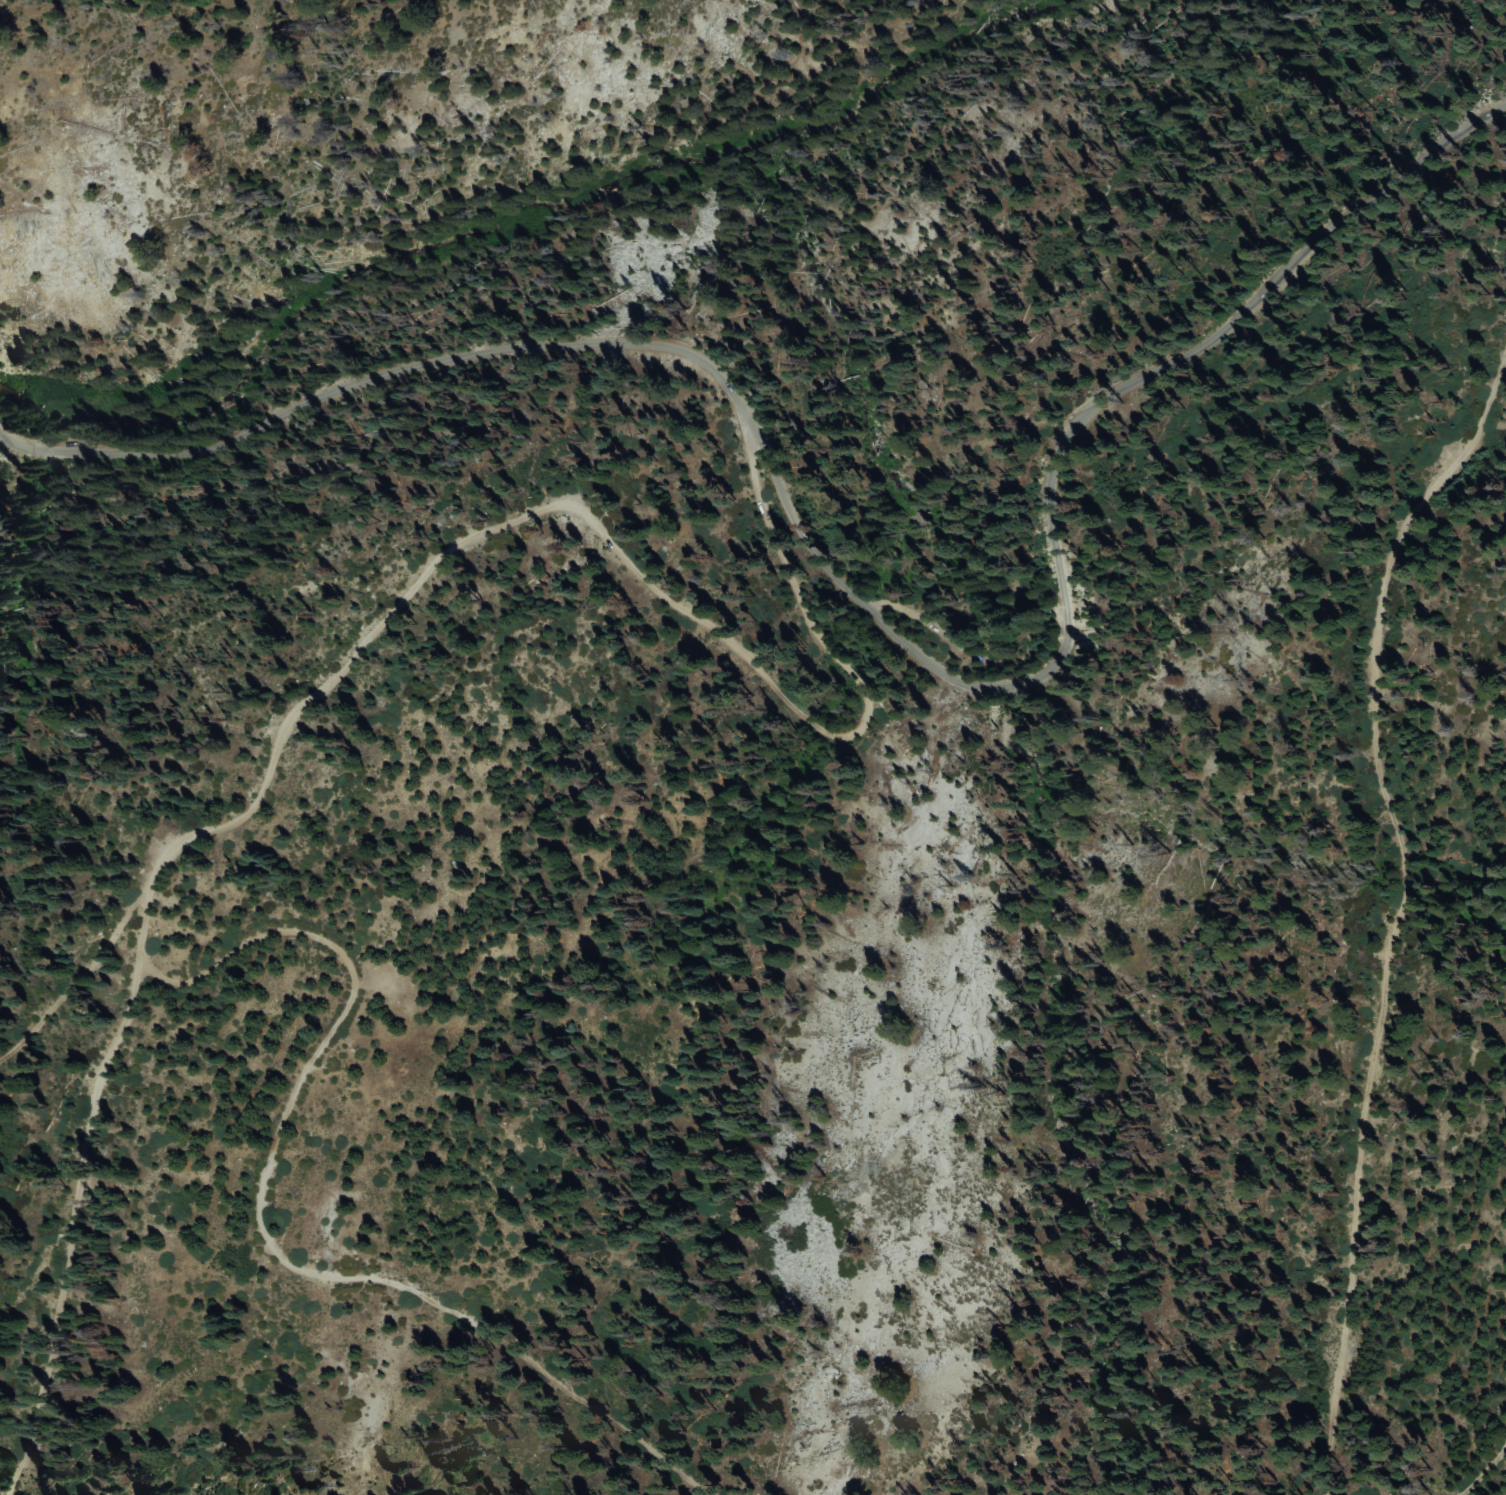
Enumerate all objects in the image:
road: (860, 601)
road: (380, 623)
road: (1387, 917)
road: (78, 971)
road: (261, 1229)
road: (1490, 1472)

